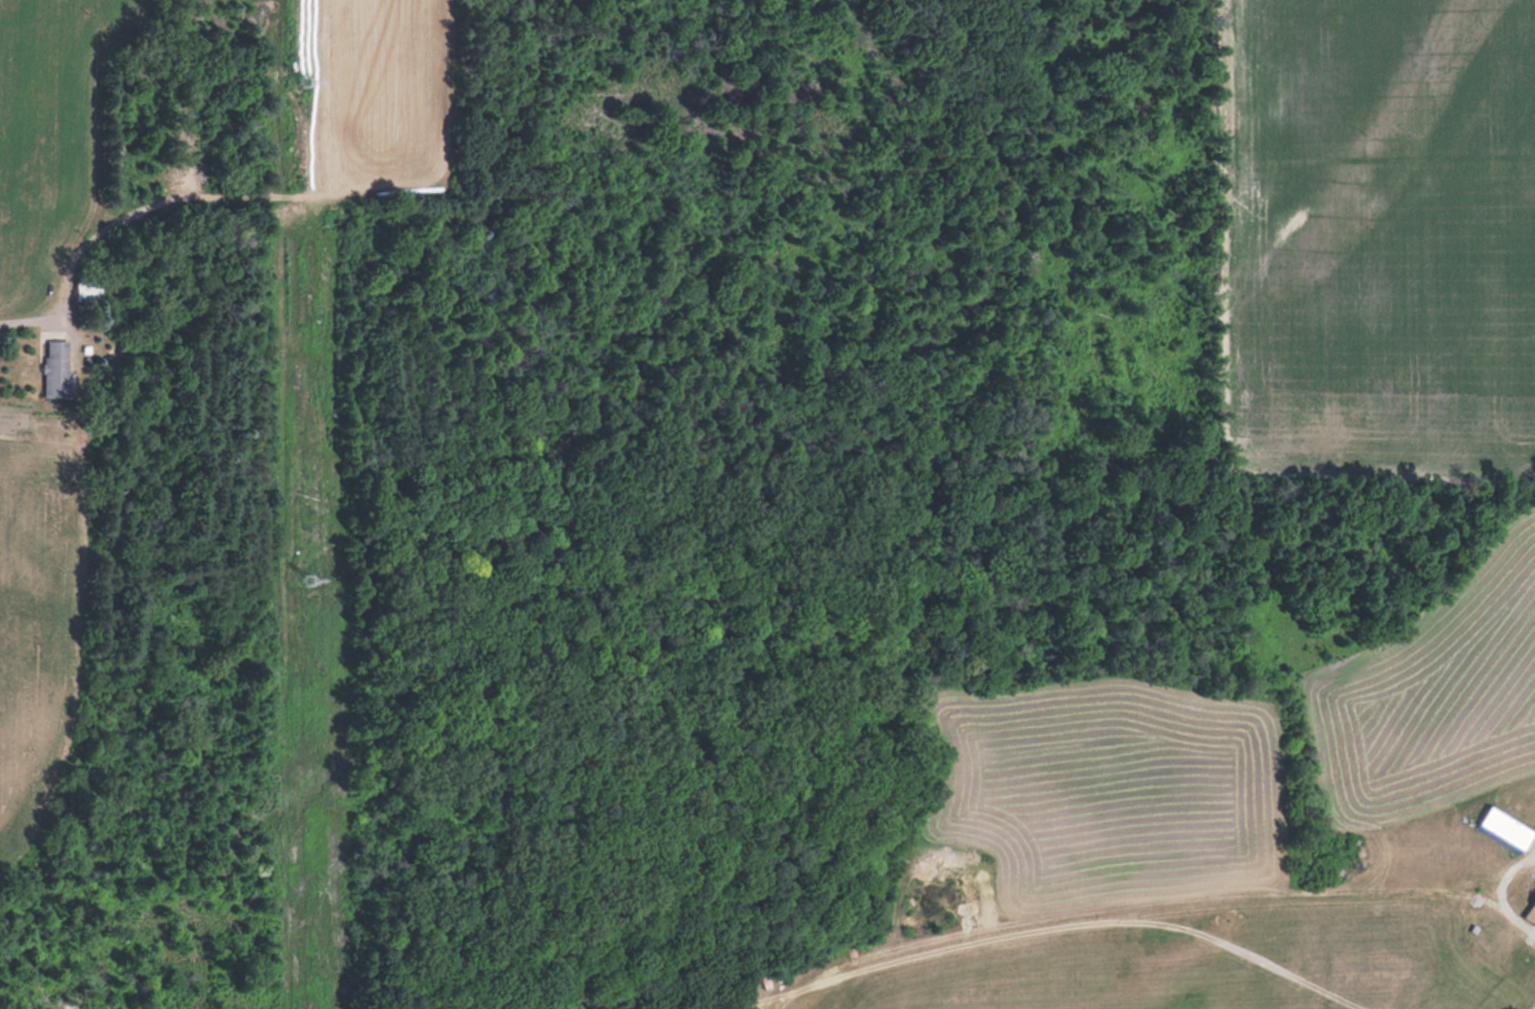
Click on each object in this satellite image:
power tower: (308, 82)
building: (87, 291)
building: (56, 369)
power tower: (312, 582)
building: (1505, 829)
road: (1502, 894)
building: (1534, 904)

